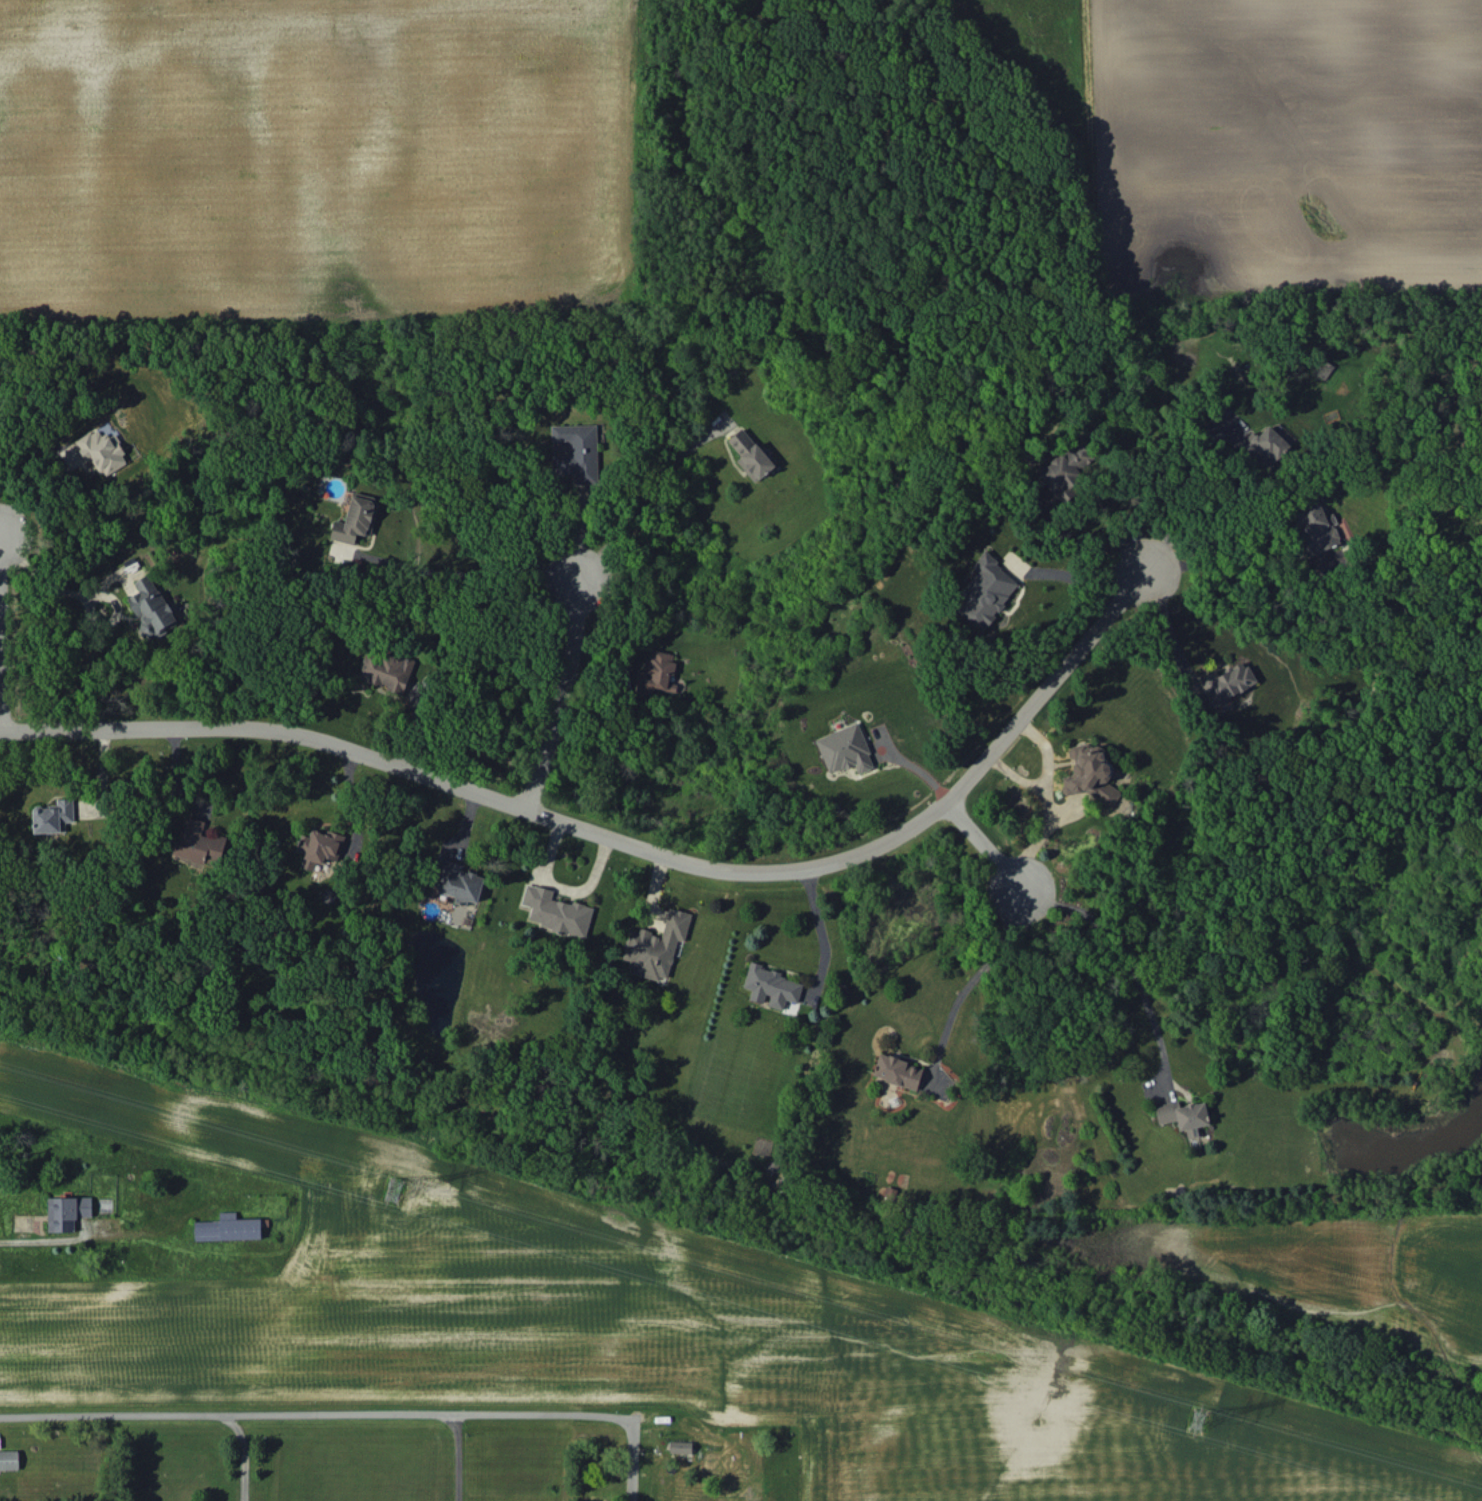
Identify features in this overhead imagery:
building: (1266, 444)
building: (102, 451)
building: (577, 452)
building: (750, 454)
building: (1068, 470)
road: (629, 482)
road: (1176, 499)
building: (356, 518)
building: (1316, 527)
road: (1, 531)
road: (1, 542)
road: (1081, 546)
road: (1234, 571)
road: (463, 575)
road: (1069, 577)
road: (46, 578)
building: (986, 591)
building: (151, 608)
road: (1164, 639)
building: (386, 670)
building: (657, 671)
building: (1228, 681)
road: (555, 691)
road: (2, 722)
building: (845, 749)
building: (1089, 774)
building: (53, 816)
road: (985, 840)
road: (621, 841)
building: (198, 844)
building: (319, 847)
building: (458, 882)
building: (556, 911)
road: (817, 920)
building: (656, 946)
road: (1119, 952)
road: (973, 959)
building: (770, 986)
building: (897, 1071)
building: (1184, 1116)
power tower: (400, 1191)
building: (67, 1212)
building: (228, 1227)
road: (37, 1238)
road: (354, 1412)
power tower: (1194, 1419)
building: (680, 1446)
road: (243, 1452)
road: (454, 1456)
building: (9, 1459)

